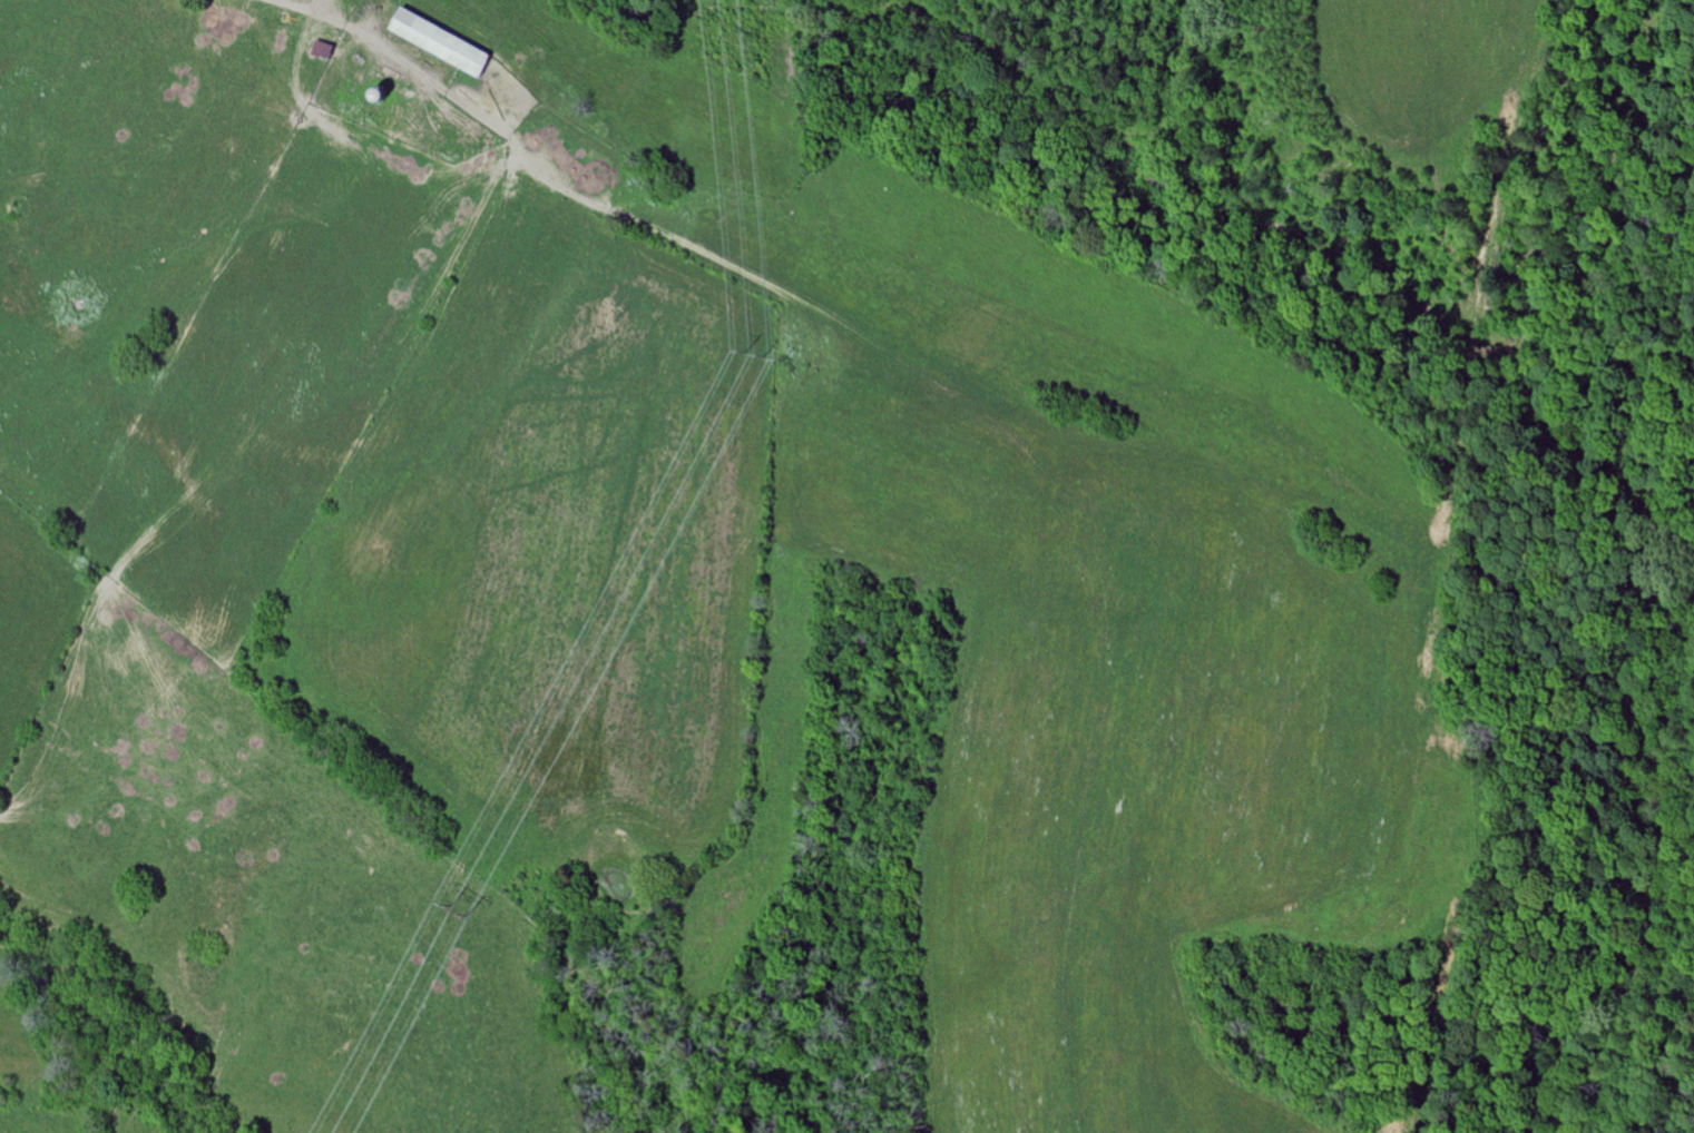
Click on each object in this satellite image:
road: (352, 30)
building: (442, 42)
building: (324, 50)
power tower: (763, 355)
power tower: (457, 912)

